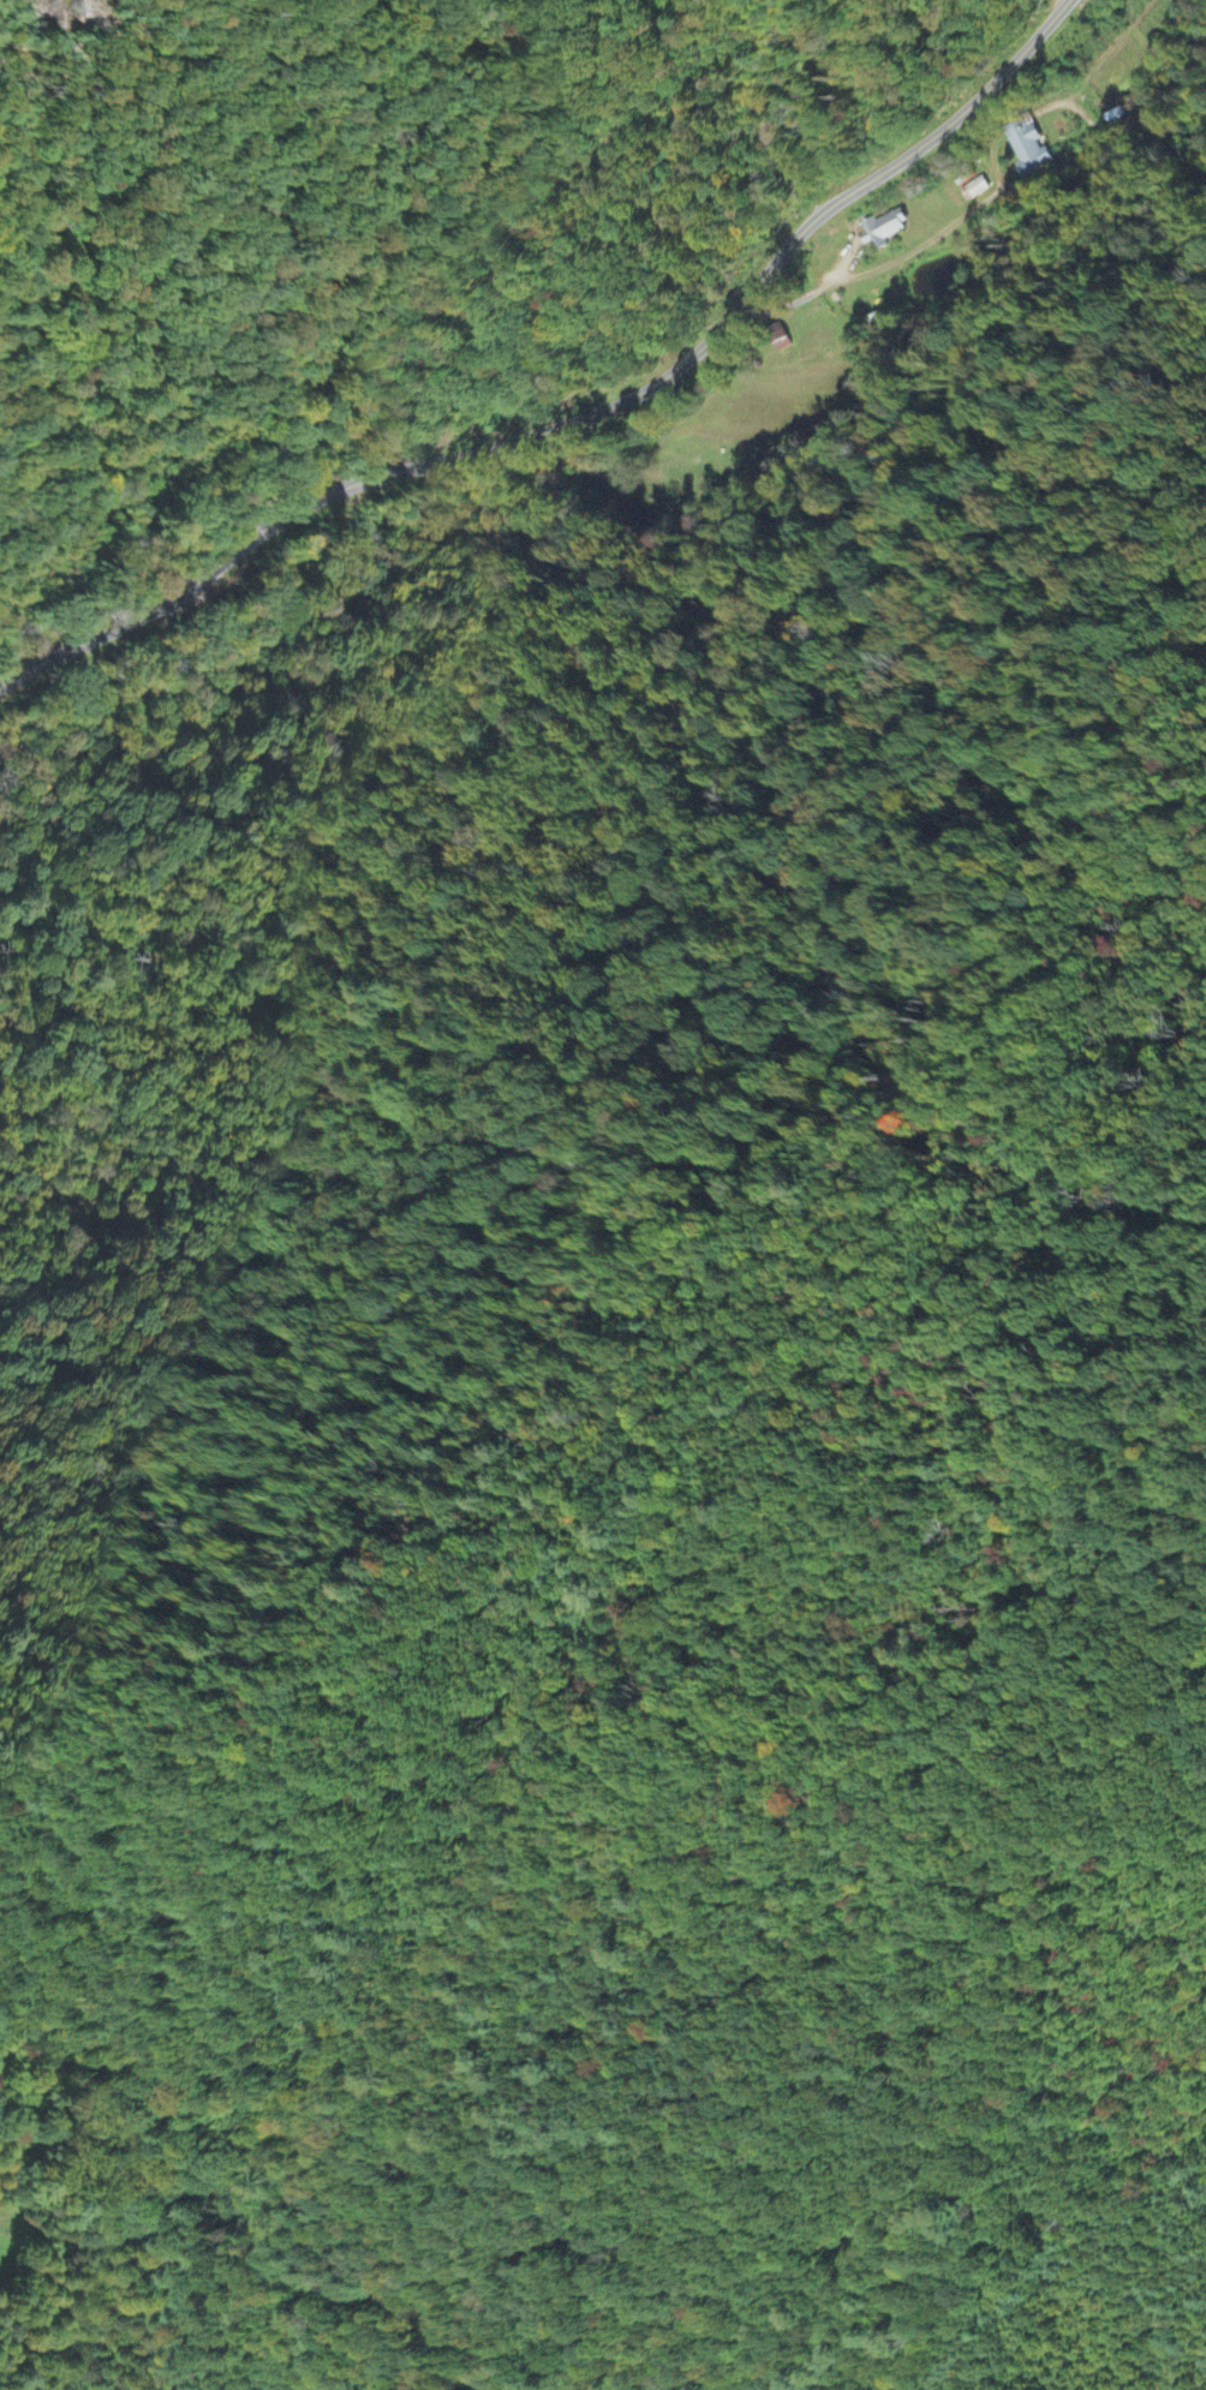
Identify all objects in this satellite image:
building: (1031, 149)
road: (990, 162)
road: (953, 223)
building: (884, 231)
road: (844, 261)
road: (581, 418)

